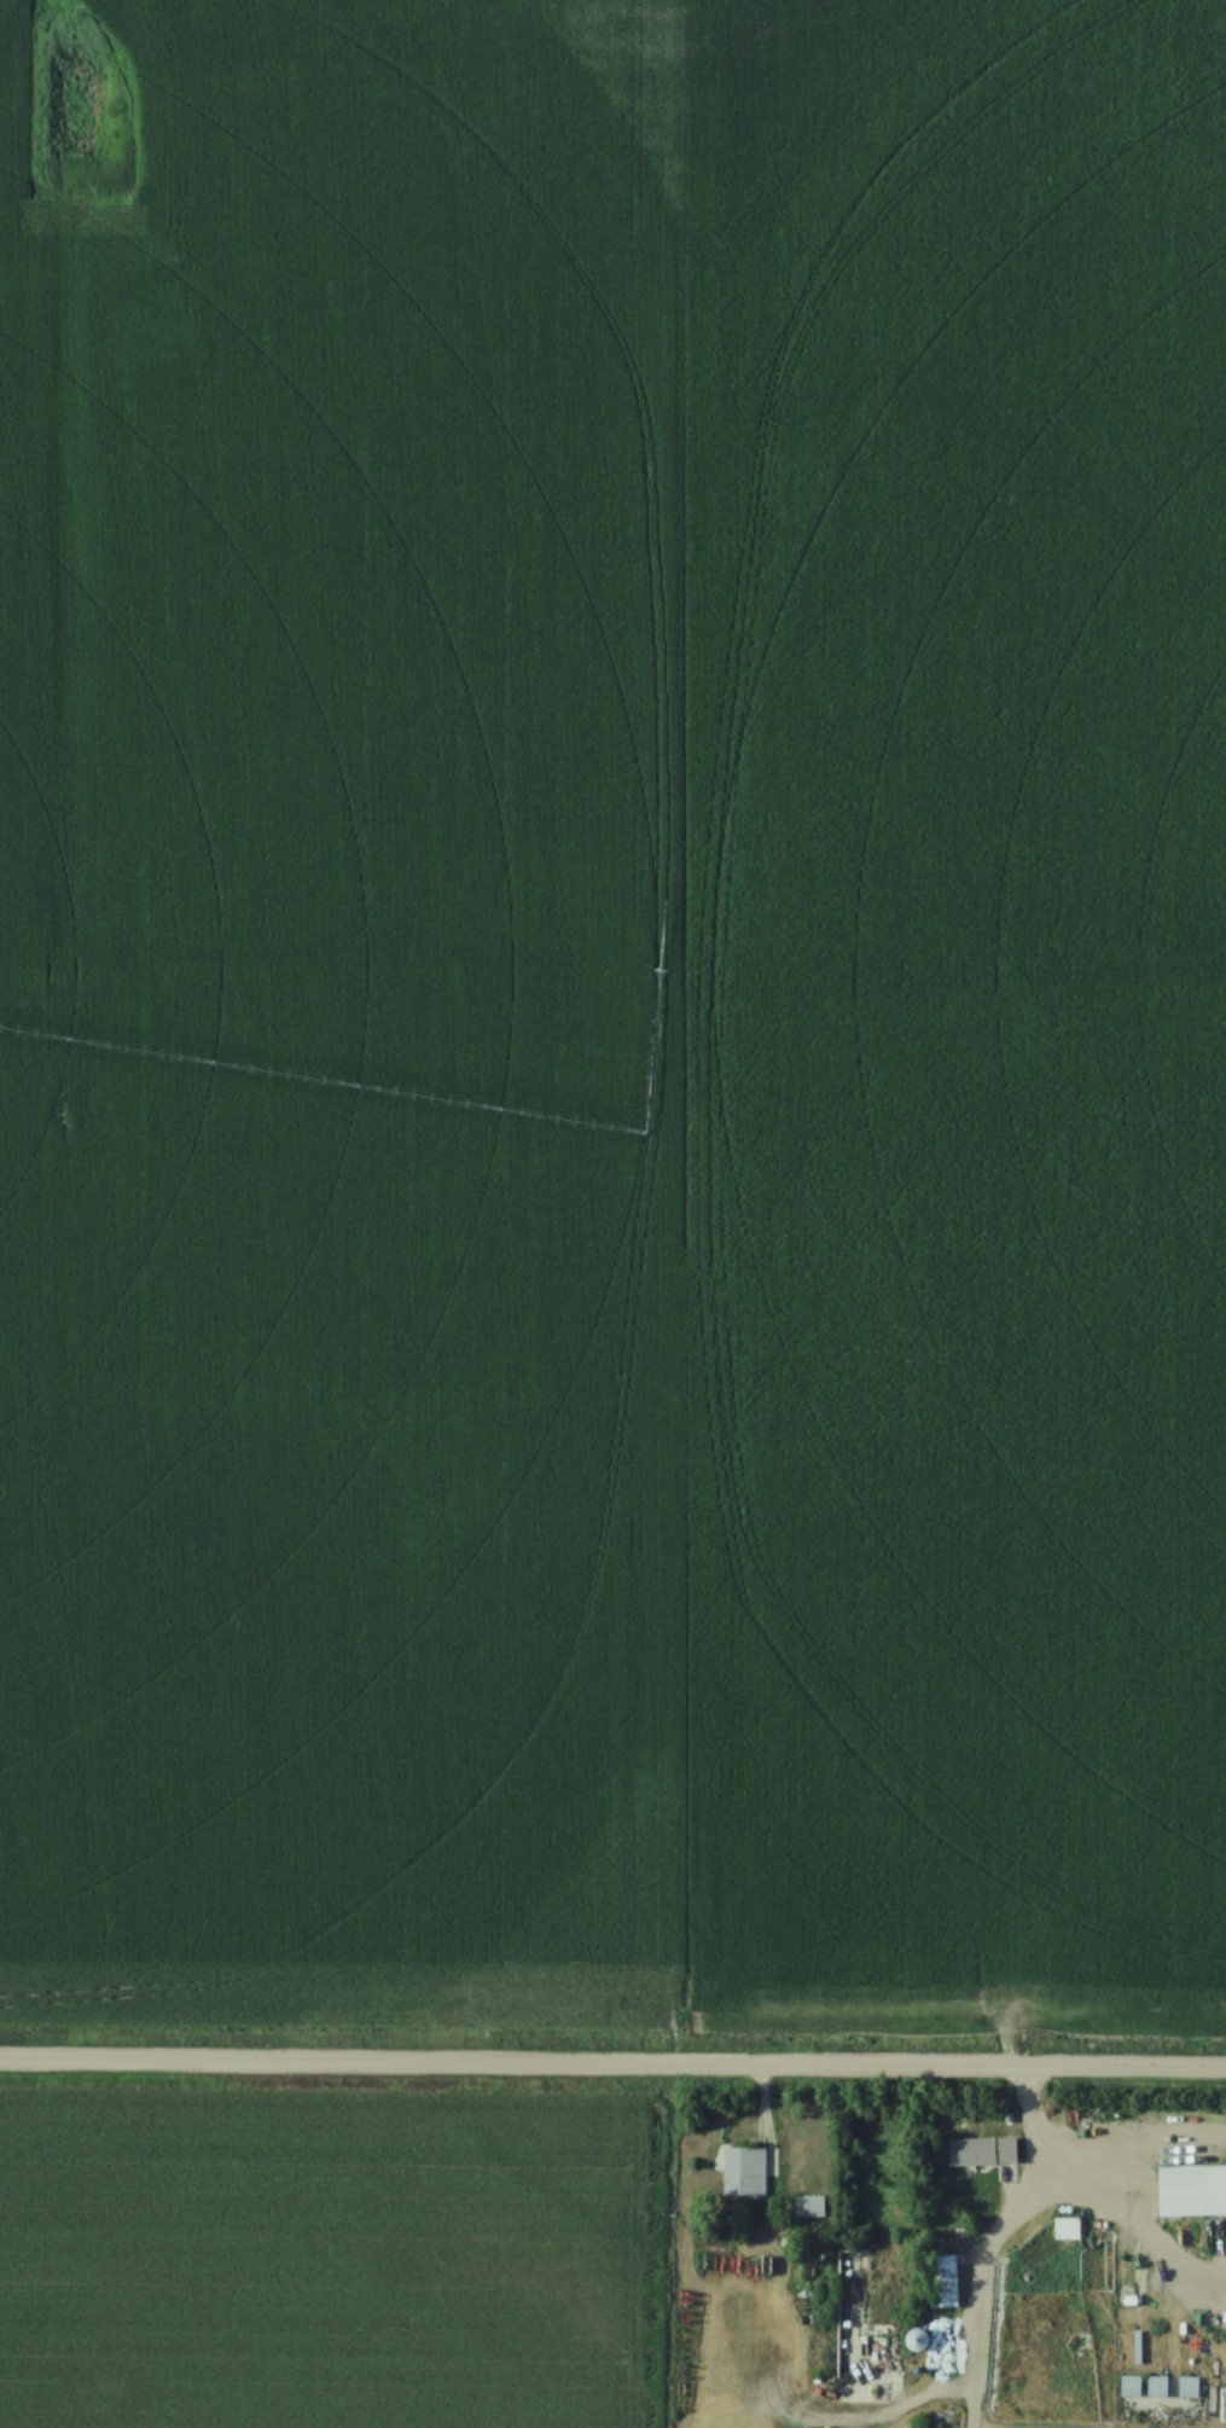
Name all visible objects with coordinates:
road: (612, 2067)
building: (983, 2151)
building: (745, 2173)
building: (1192, 2191)
road: (1016, 2201)
building: (1067, 2230)
building: (945, 2282)
building: (917, 2341)
building: (1131, 2388)
building: (1157, 2388)
building: (1189, 2388)

